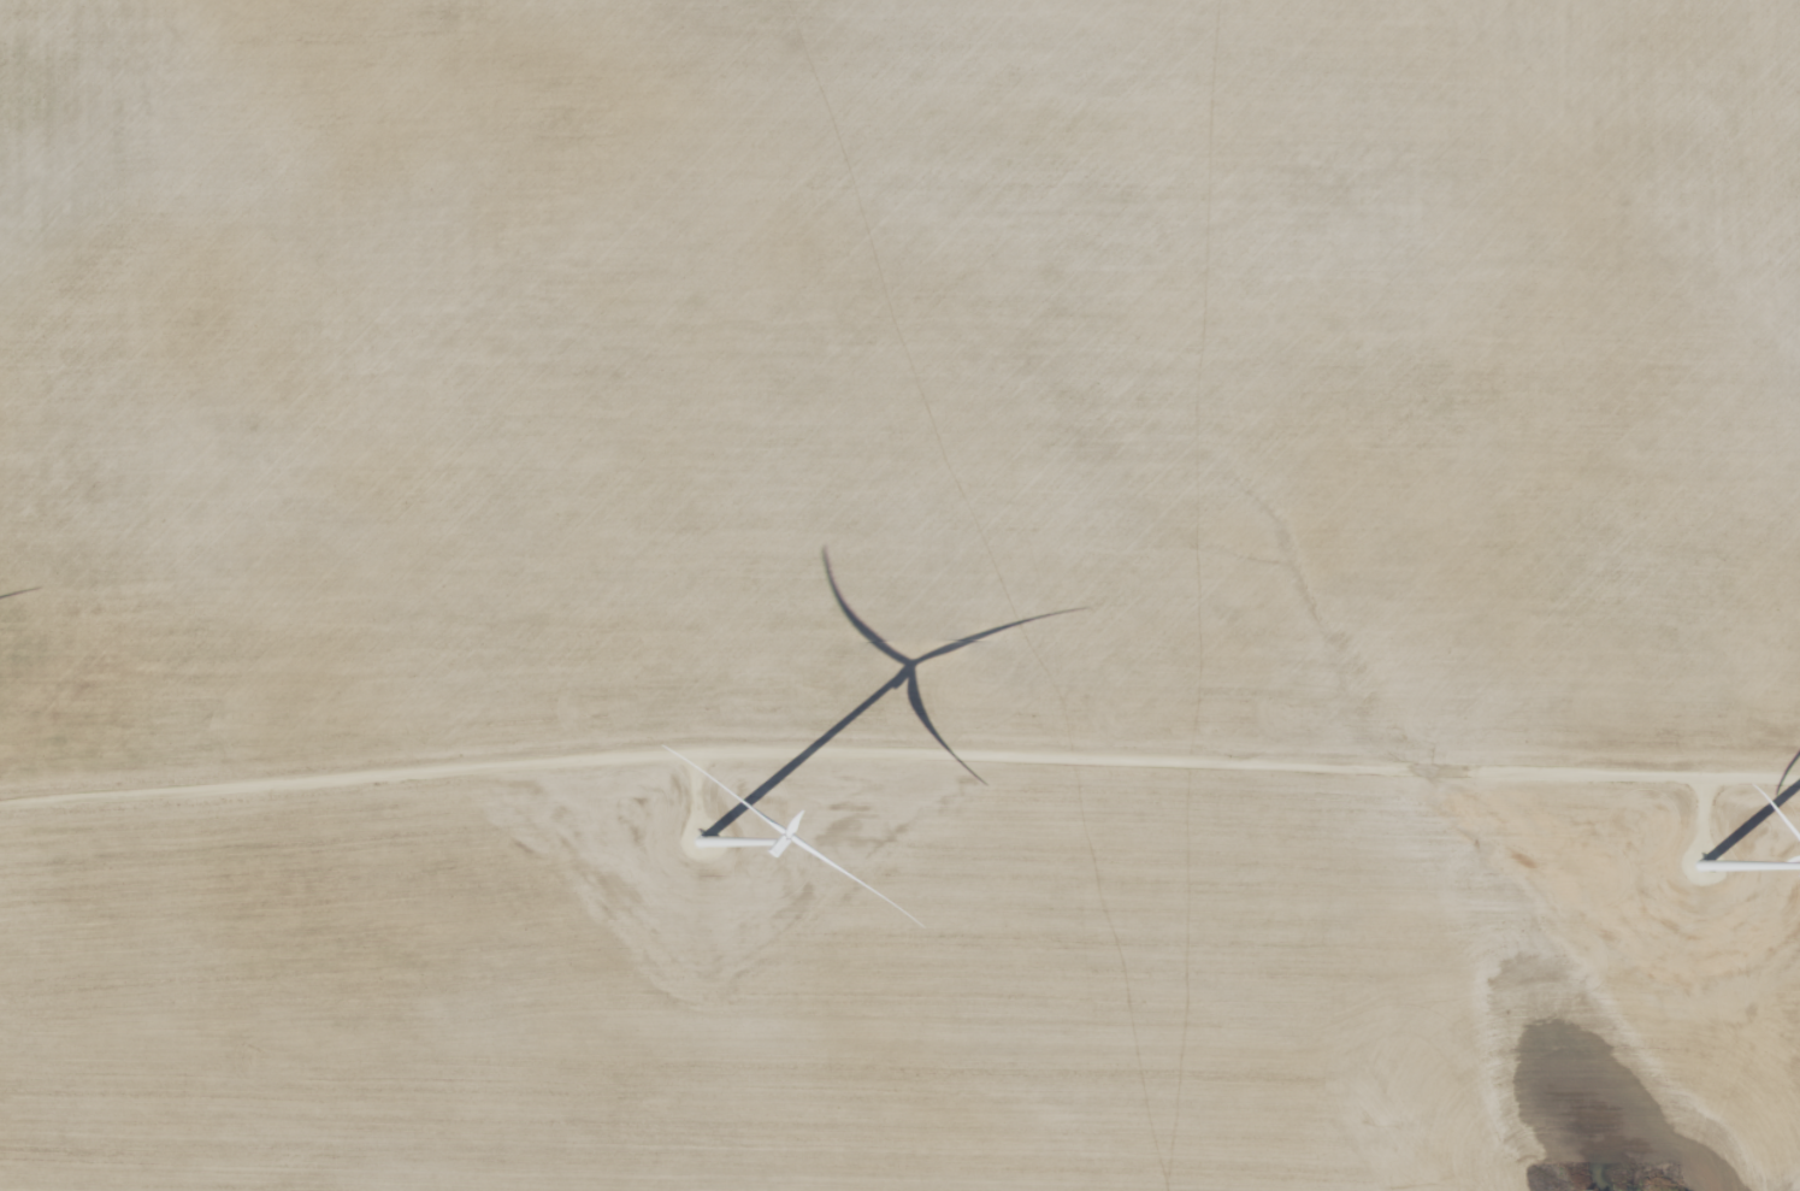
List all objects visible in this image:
wind turbine: (683, 826)
wind turbine: (1705, 854)

